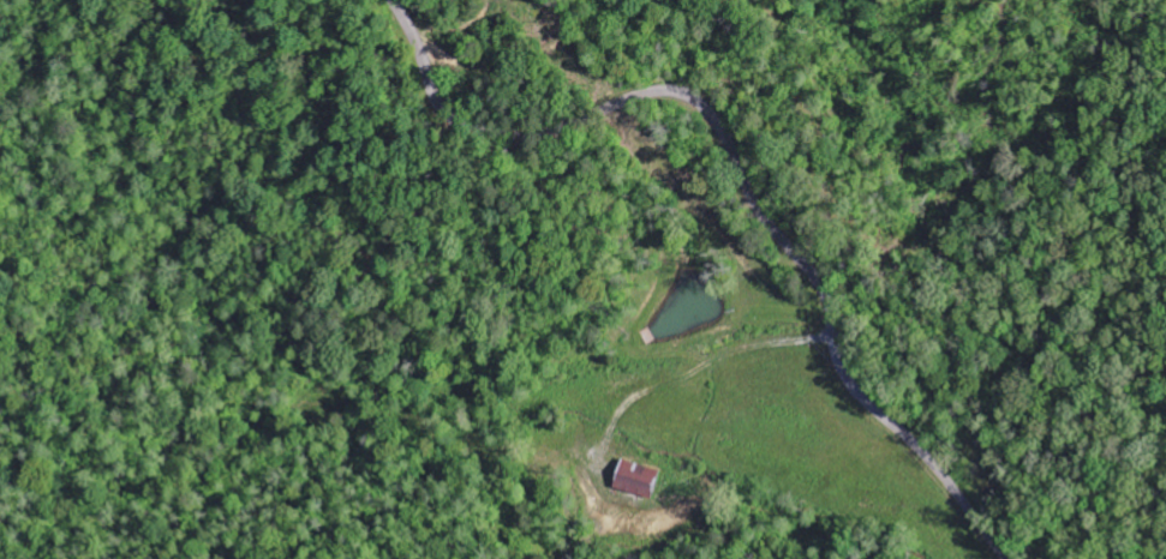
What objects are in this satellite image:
road: (741, 172)
building: (636, 480)

